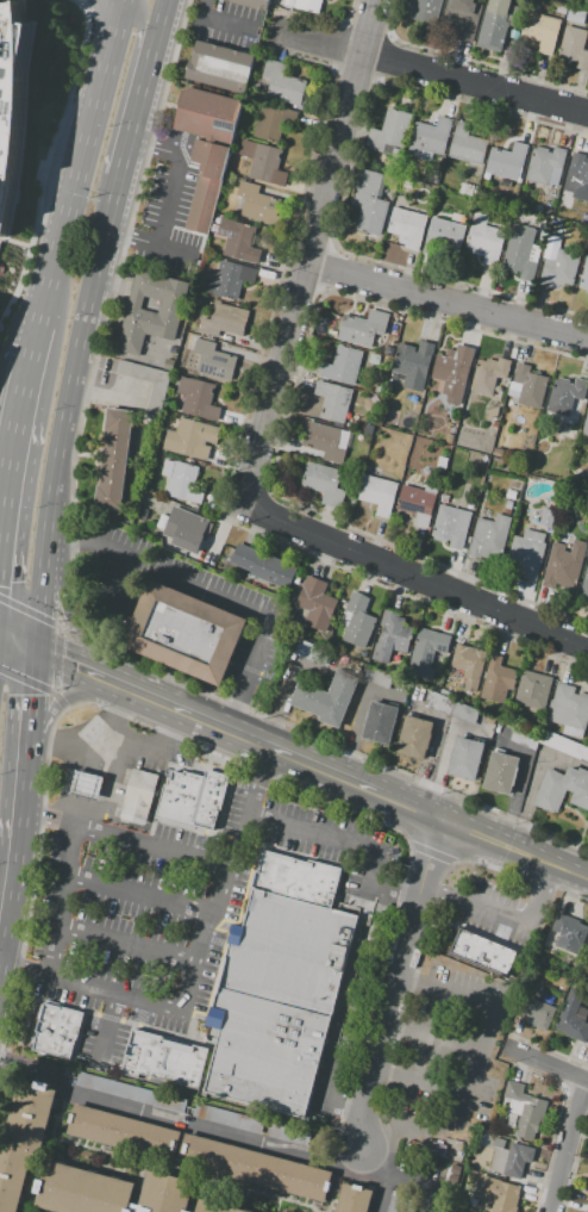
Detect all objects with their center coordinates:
road: (88, 4)
building: (251, 4)
building: (305, 5)
building: (561, 8)
building: (427, 10)
road: (159, 14)
building: (575, 14)
road: (140, 17)
building: (463, 17)
road: (214, 21)
building: (494, 24)
building: (540, 30)
building: (574, 46)
building: (219, 67)
road: (430, 67)
building: (282, 82)
building: (10, 98)
road: (135, 105)
building: (207, 116)
building: (274, 122)
building: (390, 131)
building: (430, 137)
building: (467, 145)
road: (154, 148)
road: (45, 159)
road: (81, 161)
building: (507, 161)
building: (263, 162)
building: (544, 164)
building: (580, 173)
building: (432, 179)
building: (206, 184)
building: (468, 189)
building: (370, 203)
building: (257, 204)
road: (161, 223)
building: (407, 226)
building: (443, 235)
road: (129, 236)
building: (238, 241)
building: (486, 242)
road: (27, 247)
road: (306, 249)
building: (520, 253)
building: (559, 268)
building: (584, 275)
building: (229, 280)
road: (445, 300)
road: (107, 306)
road: (23, 309)
building: (224, 321)
building: (150, 323)
building: (362, 328)
building: (213, 360)
building: (413, 363)
building: (340, 365)
road: (30, 369)
building: (453, 372)
building: (488, 374)
building: (526, 386)
building: (565, 394)
building: (198, 398)
building: (156, 399)
building: (332, 400)
building: (587, 402)
road: (65, 411)
building: (586, 425)
building: (190, 439)
building: (449, 439)
building: (324, 440)
road: (13, 449)
building: (498, 453)
building: (113, 460)
building: (442, 461)
building: (182, 480)
building: (323, 483)
building: (377, 493)
building: (509, 495)
building: (418, 502)
road: (2, 506)
building: (507, 506)
building: (546, 517)
building: (451, 526)
building: (186, 529)
building: (489, 536)
building: (526, 554)
building: (263, 565)
building: (563, 565)
road: (414, 573)
building: (584, 586)
road: (218, 591)
building: (315, 603)
road: (67, 611)
road: (68, 622)
building: (356, 622)
road: (57, 627)
building: (183, 633)
building: (390, 636)
road: (15, 639)
traffic signals: (33, 645)
building: (427, 653)
road: (80, 665)
building: (469, 665)
building: (496, 679)
road: (35, 684)
building: (532, 691)
traffic signals: (29, 696)
road: (27, 697)
road: (154, 697)
building: (326, 697)
road: (62, 698)
building: (450, 707)
building: (569, 707)
building: (379, 723)
road: (225, 727)
building: (414, 738)
road: (64, 741)
building: (550, 742)
road: (443, 757)
building: (465, 758)
road: (21, 762)
building: (500, 772)
road: (531, 782)
road: (354, 783)
building: (86, 784)
gas station: (86, 784)
building: (562, 789)
building: (139, 793)
building: (192, 798)
road: (73, 826)
road: (39, 829)
road: (475, 834)
road: (10, 837)
road: (121, 837)
road: (351, 841)
road: (429, 853)
road: (542, 862)
building: (296, 876)
road: (580, 876)
road: (437, 891)
road: (139, 893)
road: (534, 894)
road: (488, 910)
parking lot: (129, 916)
building: (569, 933)
road: (126, 945)
building: (587, 946)
building: (483, 952)
road: (193, 968)
building: (546, 997)
building: (275, 1001)
building: (539, 1014)
road: (387, 1015)
building: (573, 1017)
road: (107, 1020)
building: (56, 1031)
parking lot: (437, 1052)
building: (163, 1059)
road: (548, 1065)
road: (475, 1067)
building: (131, 1093)
parking lot: (131, 1093)
building: (525, 1110)
building: (227, 1119)
parking lot: (227, 1119)
road: (189, 1124)
building: (124, 1132)
building: (290, 1135)
parking lot: (290, 1135)
building: (23, 1140)
road: (179, 1146)
road: (567, 1146)
road: (48, 1150)
building: (478, 1156)
building: (511, 1157)
road: (371, 1163)
building: (256, 1168)
road: (184, 1175)
road: (138, 1188)
road: (407, 1188)
building: (81, 1191)
road: (334, 1191)
building: (165, 1193)
road: (195, 1195)
road: (380, 1197)
building: (587, 1197)
building: (354, 1199)
building: (506, 1199)
road: (426, 1202)
building: (400, 1204)
parking lot: (400, 1204)
building: (214, 1207)
building: (587, 1208)

